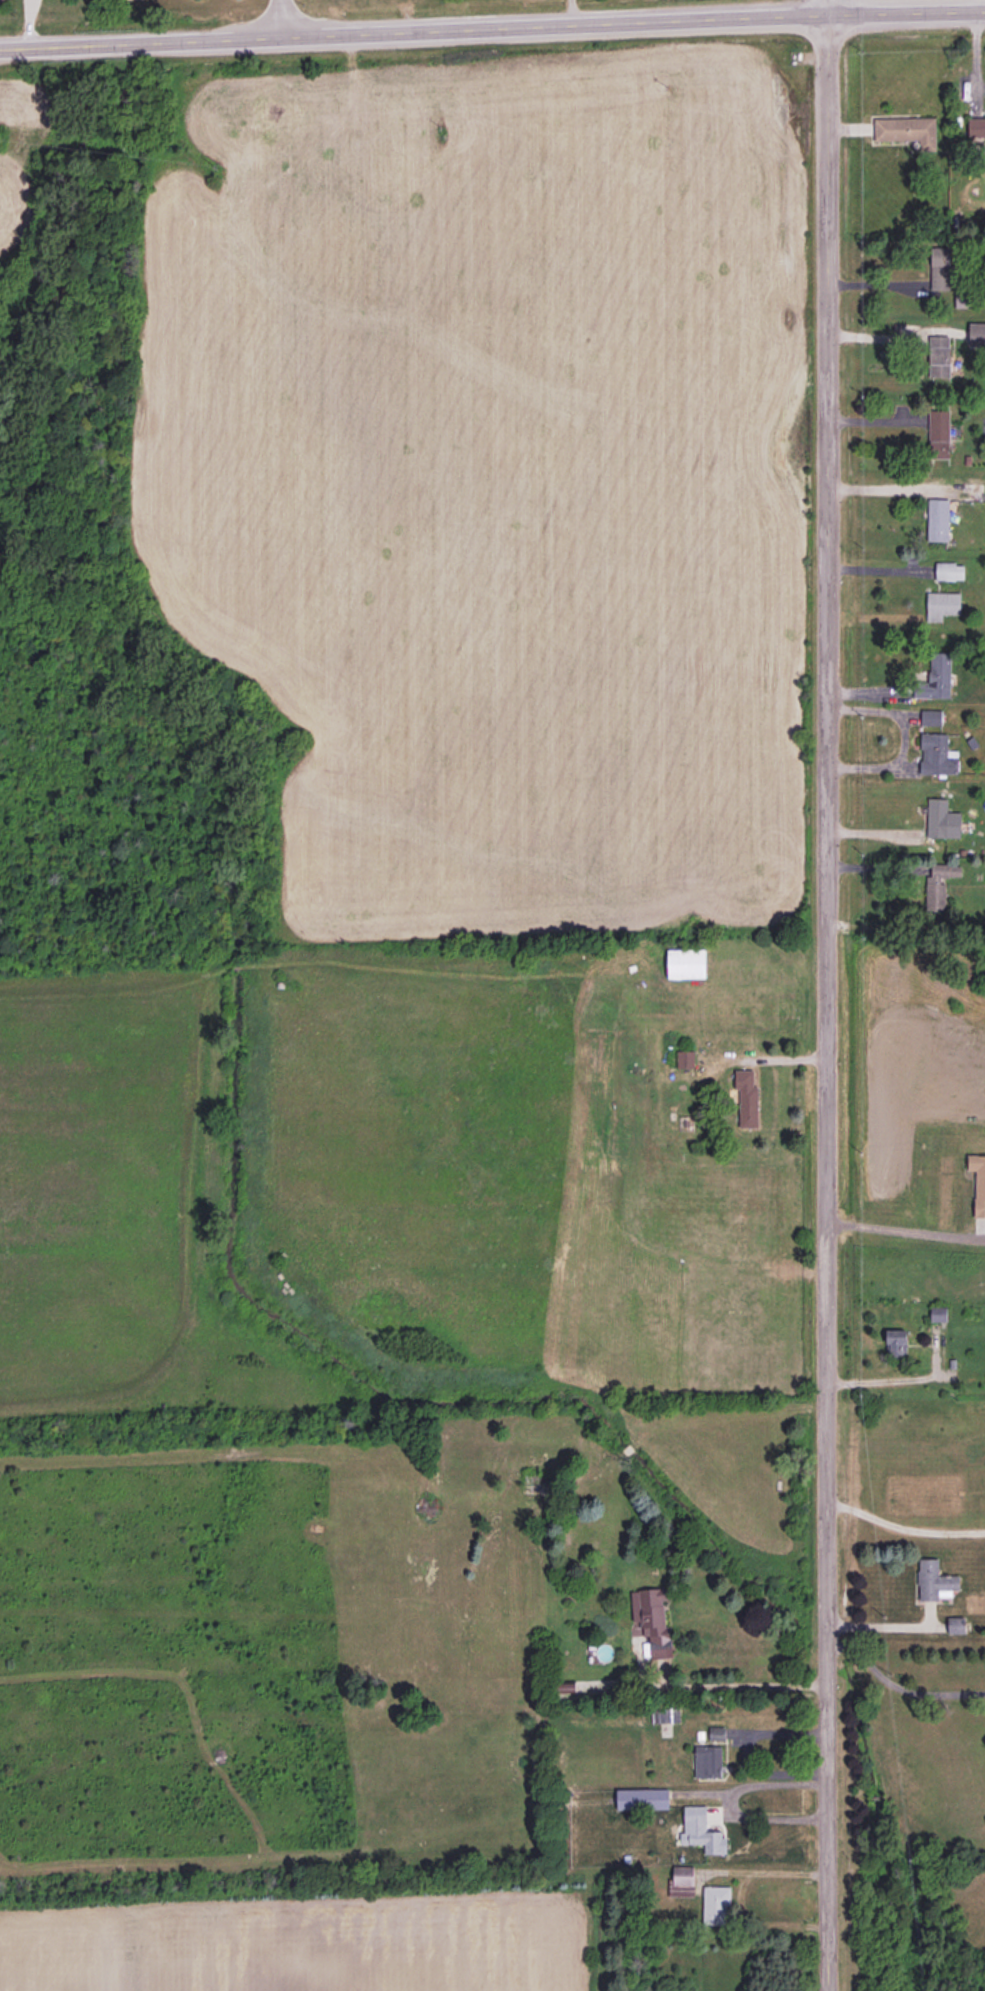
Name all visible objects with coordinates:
road: (984, 5)
road: (278, 17)
road: (492, 26)
road: (975, 52)
building: (976, 127)
building: (907, 130)
building: (940, 268)
road: (879, 284)
road: (894, 338)
building: (939, 433)
road: (883, 488)
building: (971, 491)
building: (949, 571)
road: (877, 576)
building: (942, 605)
building: (936, 677)
building: (931, 717)
road: (902, 740)
building: (937, 754)
building: (942, 819)
road: (879, 832)
road: (878, 868)
building: (939, 884)
road: (880, 928)
building: (686, 963)
road: (825, 995)
building: (686, 1058)
building: (747, 1098)
road: (904, 1237)
road: (890, 1379)
road: (902, 1533)
building: (651, 1620)
road: (878, 1624)
road: (731, 1684)
road: (897, 1686)
building: (666, 1714)
building: (717, 1732)
road: (745, 1751)
building: (708, 1761)
building: (643, 1798)
road: (728, 1802)
building: (701, 1830)
road: (774, 1871)
building: (682, 1881)
building: (716, 1905)

